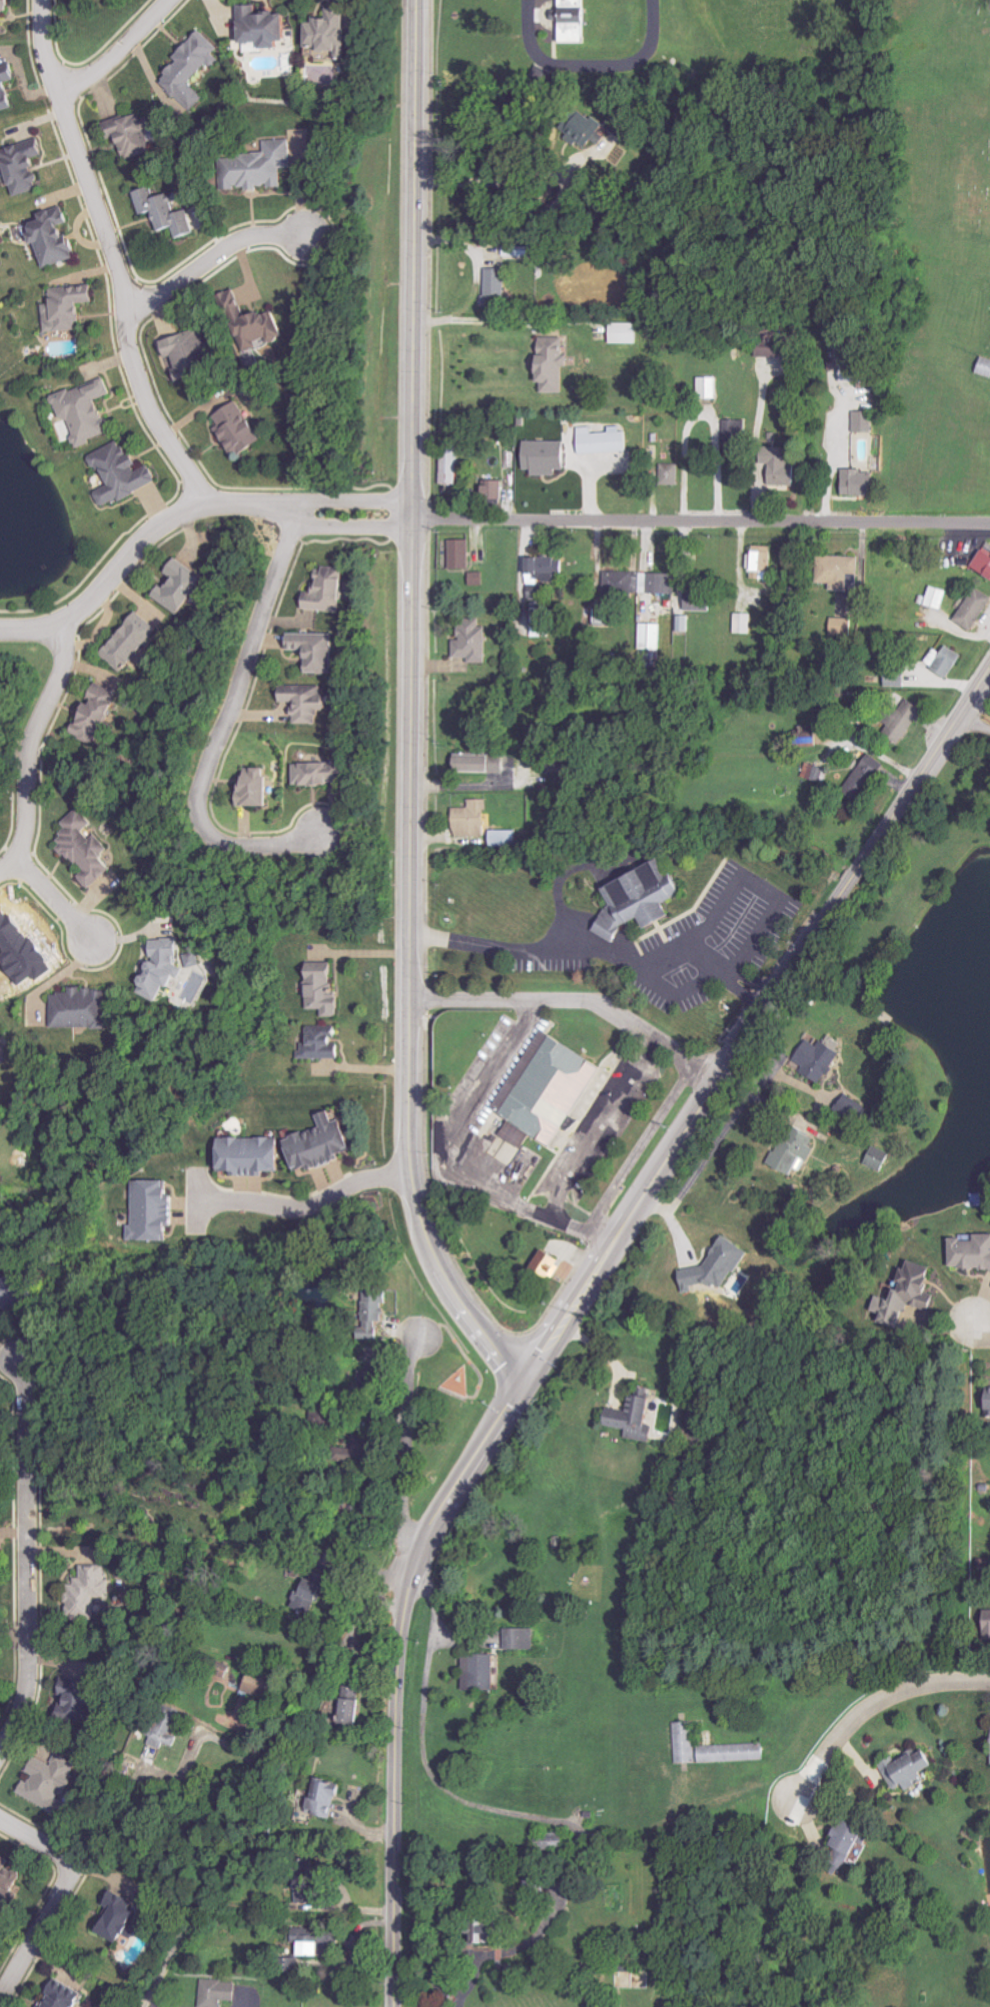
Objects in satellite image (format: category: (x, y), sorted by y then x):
building: (5, 8)
building: (574, 22)
building: (267, 27)
building: (331, 33)
road: (116, 51)
road: (590, 69)
building: (194, 70)
building: (7, 87)
building: (624, 128)
building: (589, 133)
building: (132, 136)
building: (26, 167)
building: (262, 167)
road: (503, 180)
building: (167, 212)
building: (55, 239)
road: (109, 256)
park: (937, 256)
road: (211, 258)
building: (498, 286)
building: (69, 307)
road: (504, 322)
building: (260, 328)
building: (627, 333)
building: (772, 348)
building: (192, 354)
building: (555, 365)
building: (986, 367)
building: (856, 373)
building: (710, 388)
building: (87, 412)
building: (863, 422)
building: (239, 430)
building: (605, 441)
building: (548, 458)
building: (452, 465)
building: (784, 468)
building: (123, 474)
building: (672, 474)
building: (861, 483)
building: (495, 490)
road: (182, 512)
road: (700, 521)
building: (462, 553)
building: (985, 562)
building: (763, 563)
building: (840, 570)
building: (545, 574)
building: (480, 579)
building: (622, 581)
building: (661, 582)
building: (182, 587)
building: (329, 591)
building: (938, 597)
building: (700, 599)
building: (976, 609)
building: (542, 621)
building: (746, 623)
building: (842, 626)
building: (133, 641)
building: (474, 641)
building: (316, 650)
building: (947, 660)
building: (898, 676)
building: (308, 701)
road: (408, 705)
building: (99, 713)
road: (974, 714)
building: (906, 720)
road: (224, 727)
road: (28, 752)
building: (481, 763)
building: (567, 767)
building: (323, 772)
building: (817, 773)
building: (864, 780)
road: (468, 786)
building: (258, 787)
building: (473, 819)
building: (505, 838)
building: (87, 848)
road: (761, 889)
road: (53, 902)
building: (654, 916)
road: (598, 943)
building: (196, 960)
building: (165, 967)
building: (325, 989)
road: (669, 991)
road: (572, 999)
building: (83, 1008)
building: (1, 1039)
building: (323, 1044)
building: (820, 1059)
building: (542, 1085)
building: (856, 1109)
road: (693, 1112)
building: (324, 1144)
road: (637, 1146)
road: (583, 1149)
building: (795, 1152)
building: (253, 1155)
building: (880, 1158)
road: (696, 1174)
road: (303, 1206)
building: (154, 1210)
building: (972, 1254)
building: (550, 1264)
building: (711, 1267)
building: (14, 1291)
building: (910, 1299)
building: (376, 1306)
road: (979, 1325)
road: (466, 1360)
building: (371, 1376)
building: (627, 1416)
road: (405, 1442)
building: (370, 1443)
road: (25, 1555)
building: (0, 1557)
building: (89, 1589)
building: (314, 1592)
building: (989, 1625)
building: (515, 1638)
building: (477, 1671)
building: (262, 1682)
building: (83, 1695)
building: (355, 1704)
building: (345, 1705)
road: (878, 1707)
building: (167, 1728)
road: (196, 1741)
building: (686, 1743)
building: (735, 1753)
building: (910, 1769)
road: (220, 1779)
road: (261, 1780)
building: (49, 1782)
road: (391, 1788)
building: (319, 1798)
building: (850, 1848)
building: (8, 1877)
building: (300, 1880)
building: (533, 1884)
road: (58, 1894)
building: (121, 1918)
building: (485, 1930)
building: (307, 1942)
building: (218, 1992)
building: (66, 1996)

